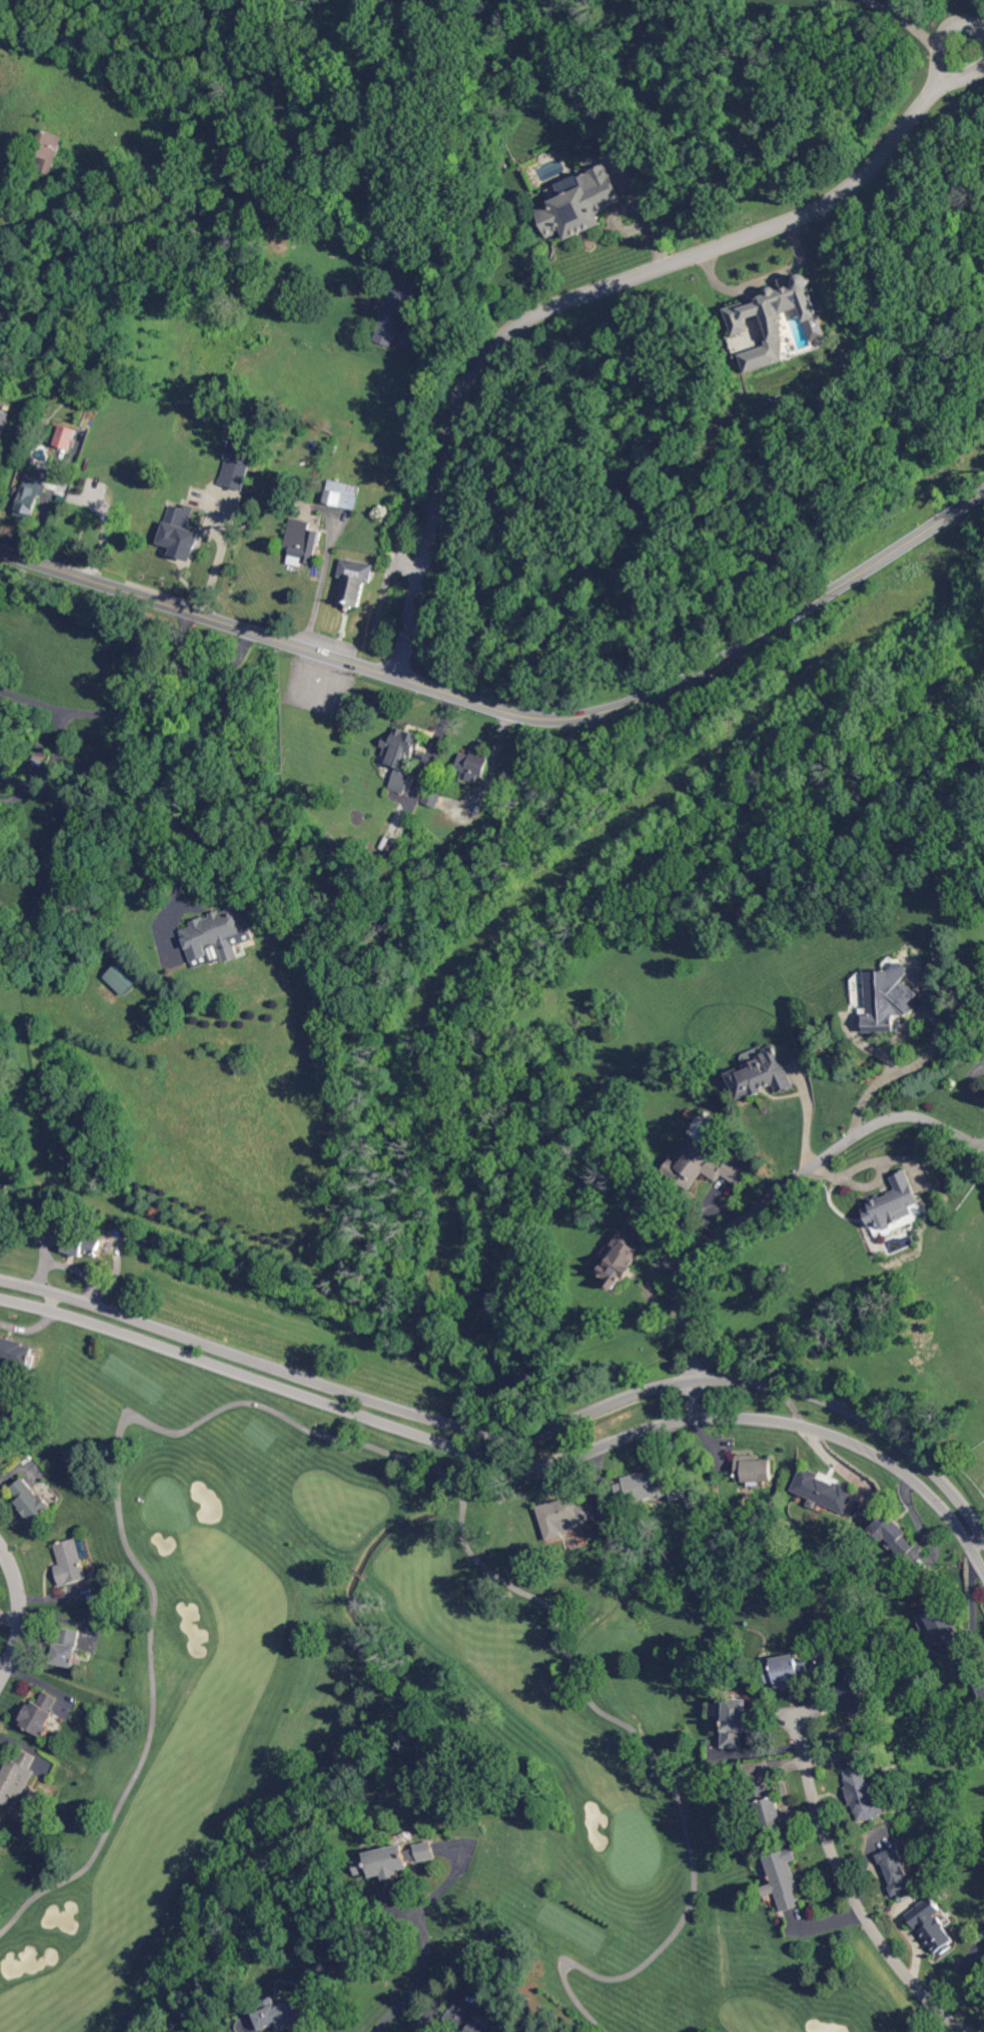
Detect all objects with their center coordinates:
road: (978, 23)
road: (924, 32)
building: (47, 150)
building: (581, 204)
road: (472, 219)
road: (768, 281)
road: (596, 287)
building: (395, 310)
building: (773, 321)
building: (4, 418)
building: (24, 432)
building: (64, 437)
building: (238, 474)
building: (343, 494)
building: (31, 497)
building: (178, 533)
building: (301, 542)
road: (216, 564)
building: (354, 580)
road: (319, 597)
road: (510, 712)
road: (126, 714)
building: (2, 718)
building: (0, 734)
building: (41, 757)
building: (402, 757)
building: (473, 764)
road: (172, 777)
building: (432, 798)
building: (1, 916)
building: (217, 931)
building: (122, 979)
building: (888, 999)
building: (2, 1040)
building: (762, 1075)
road: (972, 1083)
building: (703, 1167)
road: (771, 1203)
building: (893, 1203)
building: (77, 1240)
building: (621, 1259)
building: (784, 1270)
building: (15, 1357)
road: (320, 1433)
road: (514, 1433)
park: (537, 1457)
road: (513, 1461)
building: (753, 1471)
building: (648, 1488)
building: (823, 1490)
building: (33, 1500)
building: (565, 1515)
building: (891, 1533)
building: (71, 1562)
road: (350, 1567)
road: (358, 1572)
road: (365, 1577)
road: (20, 1611)
building: (746, 1626)
building: (945, 1628)
building: (66, 1648)
building: (788, 1670)
building: (981, 1687)
building: (855, 1692)
building: (41, 1713)
building: (734, 1722)
building: (17, 1777)
building: (863, 1793)
building: (766, 1811)
building: (397, 1861)
building: (897, 1871)
building: (784, 1879)
road: (850, 1887)
building: (931, 1927)
building: (982, 1964)
road: (419, 1976)
road: (560, 1978)
road: (585, 2009)
building: (281, 2019)
building: (468, 2020)
road: (428, 2024)

